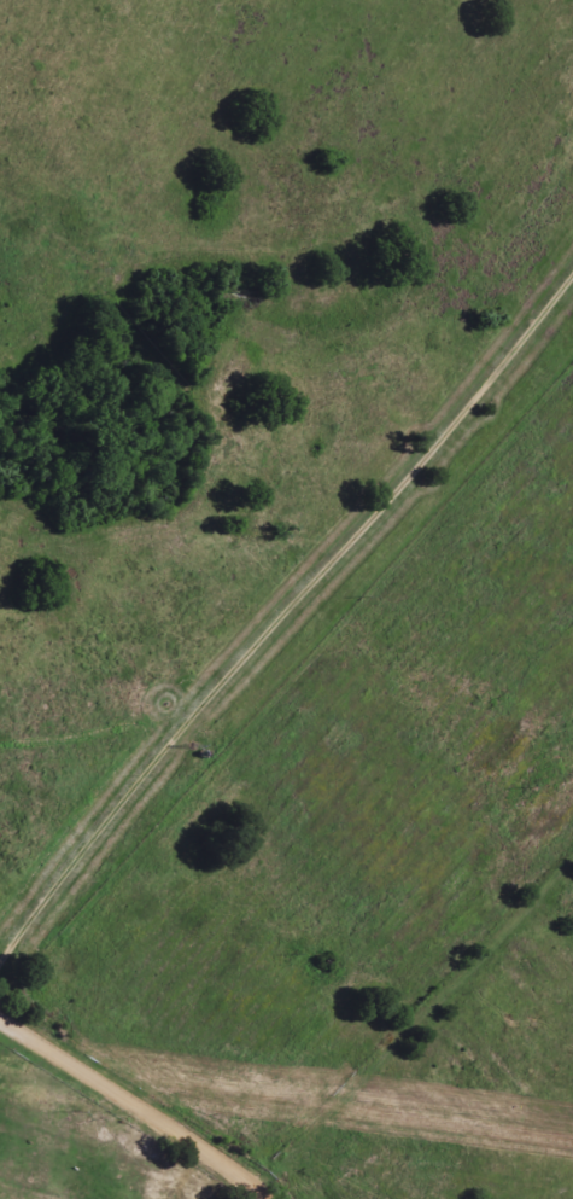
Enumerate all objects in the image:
road: (283, 613)
road: (139, 1104)
road: (246, 1186)

